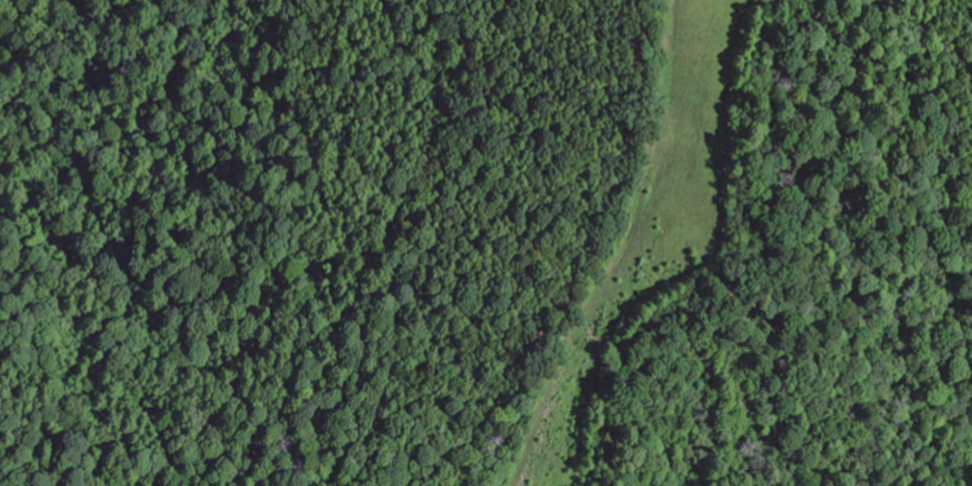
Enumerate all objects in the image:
road: (631, 261)

